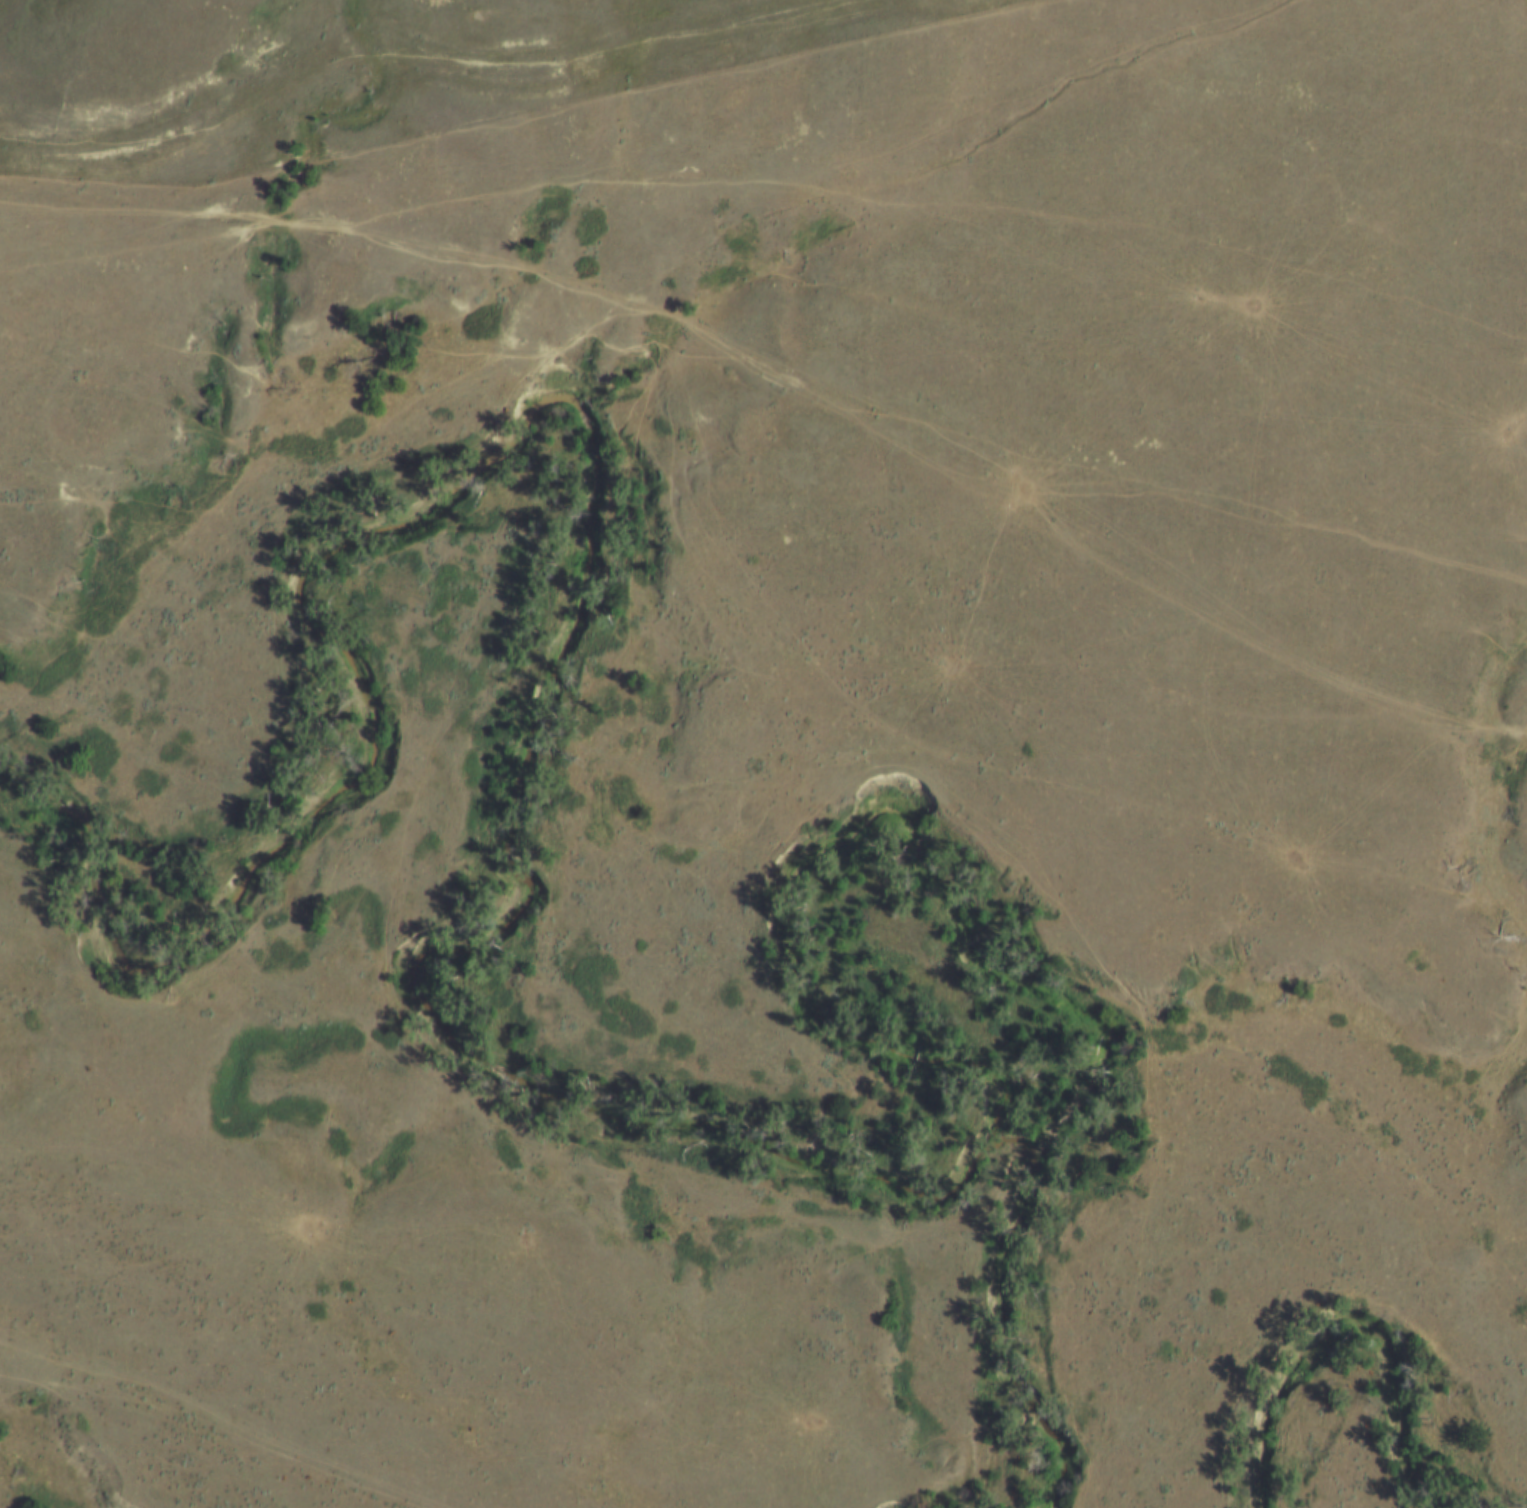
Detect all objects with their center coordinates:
road: (791, 382)

